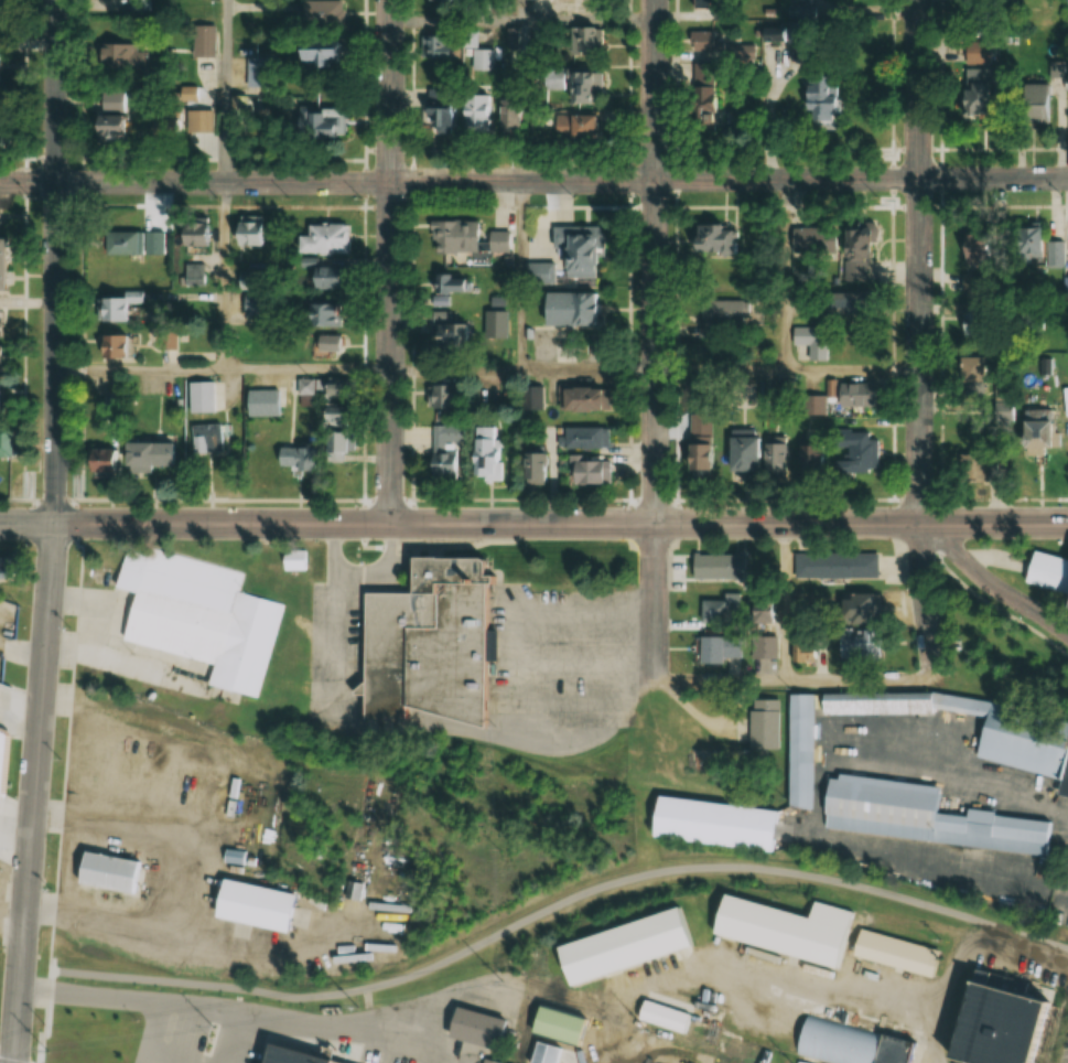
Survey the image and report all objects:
building: (439, 1)
building: (704, 2)
building: (983, 9)
building: (327, 14)
building: (2, 15)
road: (522, 20)
building: (511, 37)
building: (205, 41)
building: (581, 41)
building: (704, 41)
building: (434, 47)
building: (974, 52)
building: (313, 58)
building: (128, 60)
building: (485, 60)
building: (259, 66)
building: (3, 72)
building: (568, 84)
road: (223, 90)
building: (192, 95)
building: (701, 98)
building: (1029, 105)
building: (239, 106)
building: (817, 107)
building: (473, 112)
building: (317, 118)
building: (432, 118)
building: (505, 121)
building: (567, 125)
building: (116, 132)
road: (533, 182)
building: (258, 232)
building: (450, 237)
building: (326, 239)
building: (809, 239)
building: (496, 240)
building: (704, 240)
building: (123, 243)
building: (1027, 245)
building: (201, 247)
building: (576, 248)
building: (1055, 254)
road: (51, 261)
road: (390, 261)
building: (8, 265)
building: (539, 272)
road: (222, 275)
road: (524, 275)
building: (333, 277)
building: (248, 279)
building: (449, 284)
building: (841, 303)
building: (569, 309)
building: (119, 310)
building: (330, 315)
building: (721, 318)
building: (0, 319)
building: (969, 324)
building: (445, 328)
road: (918, 332)
building: (806, 335)
building: (333, 343)
road: (656, 343)
building: (117, 347)
building: (4, 361)
road: (305, 368)
road: (457, 368)
road: (591, 368)
road: (787, 368)
road: (136, 369)
building: (342, 391)
building: (309, 393)
building: (848, 393)
building: (207, 398)
building: (439, 398)
building: (530, 398)
building: (580, 399)
building: (266, 404)
building: (811, 406)
building: (343, 409)
building: (1002, 409)
building: (1029, 437)
building: (212, 438)
building: (583, 438)
building: (9, 441)
building: (483, 452)
building: (737, 453)
building: (853, 453)
building: (443, 455)
building: (774, 455)
building: (159, 457)
building: (697, 458)
building: (303, 459)
building: (112, 469)
building: (530, 469)
building: (585, 473)
road: (533, 524)
building: (834, 565)
building: (716, 566)
building: (8, 567)
building: (1045, 578)
road: (989, 583)
building: (719, 609)
building: (855, 609)
building: (1065, 609)
building: (199, 618)
building: (429, 638)
building: (762, 647)
building: (715, 648)
building: (841, 653)
building: (869, 707)
building: (8, 710)
building: (762, 724)
building: (1004, 742)
building: (791, 758)
road: (28, 793)
building: (192, 813)
building: (914, 819)
building: (706, 831)
building: (111, 869)
road: (561, 903)
building: (257, 904)
road: (935, 909)
building: (778, 934)
building: (616, 953)
building: (888, 958)
road: (143, 974)
building: (664, 1012)
building: (1000, 1018)
building: (470, 1034)
building: (841, 1046)
building: (544, 1052)
building: (270, 1060)
road: (10, 1061)
building: (334, 1062)

